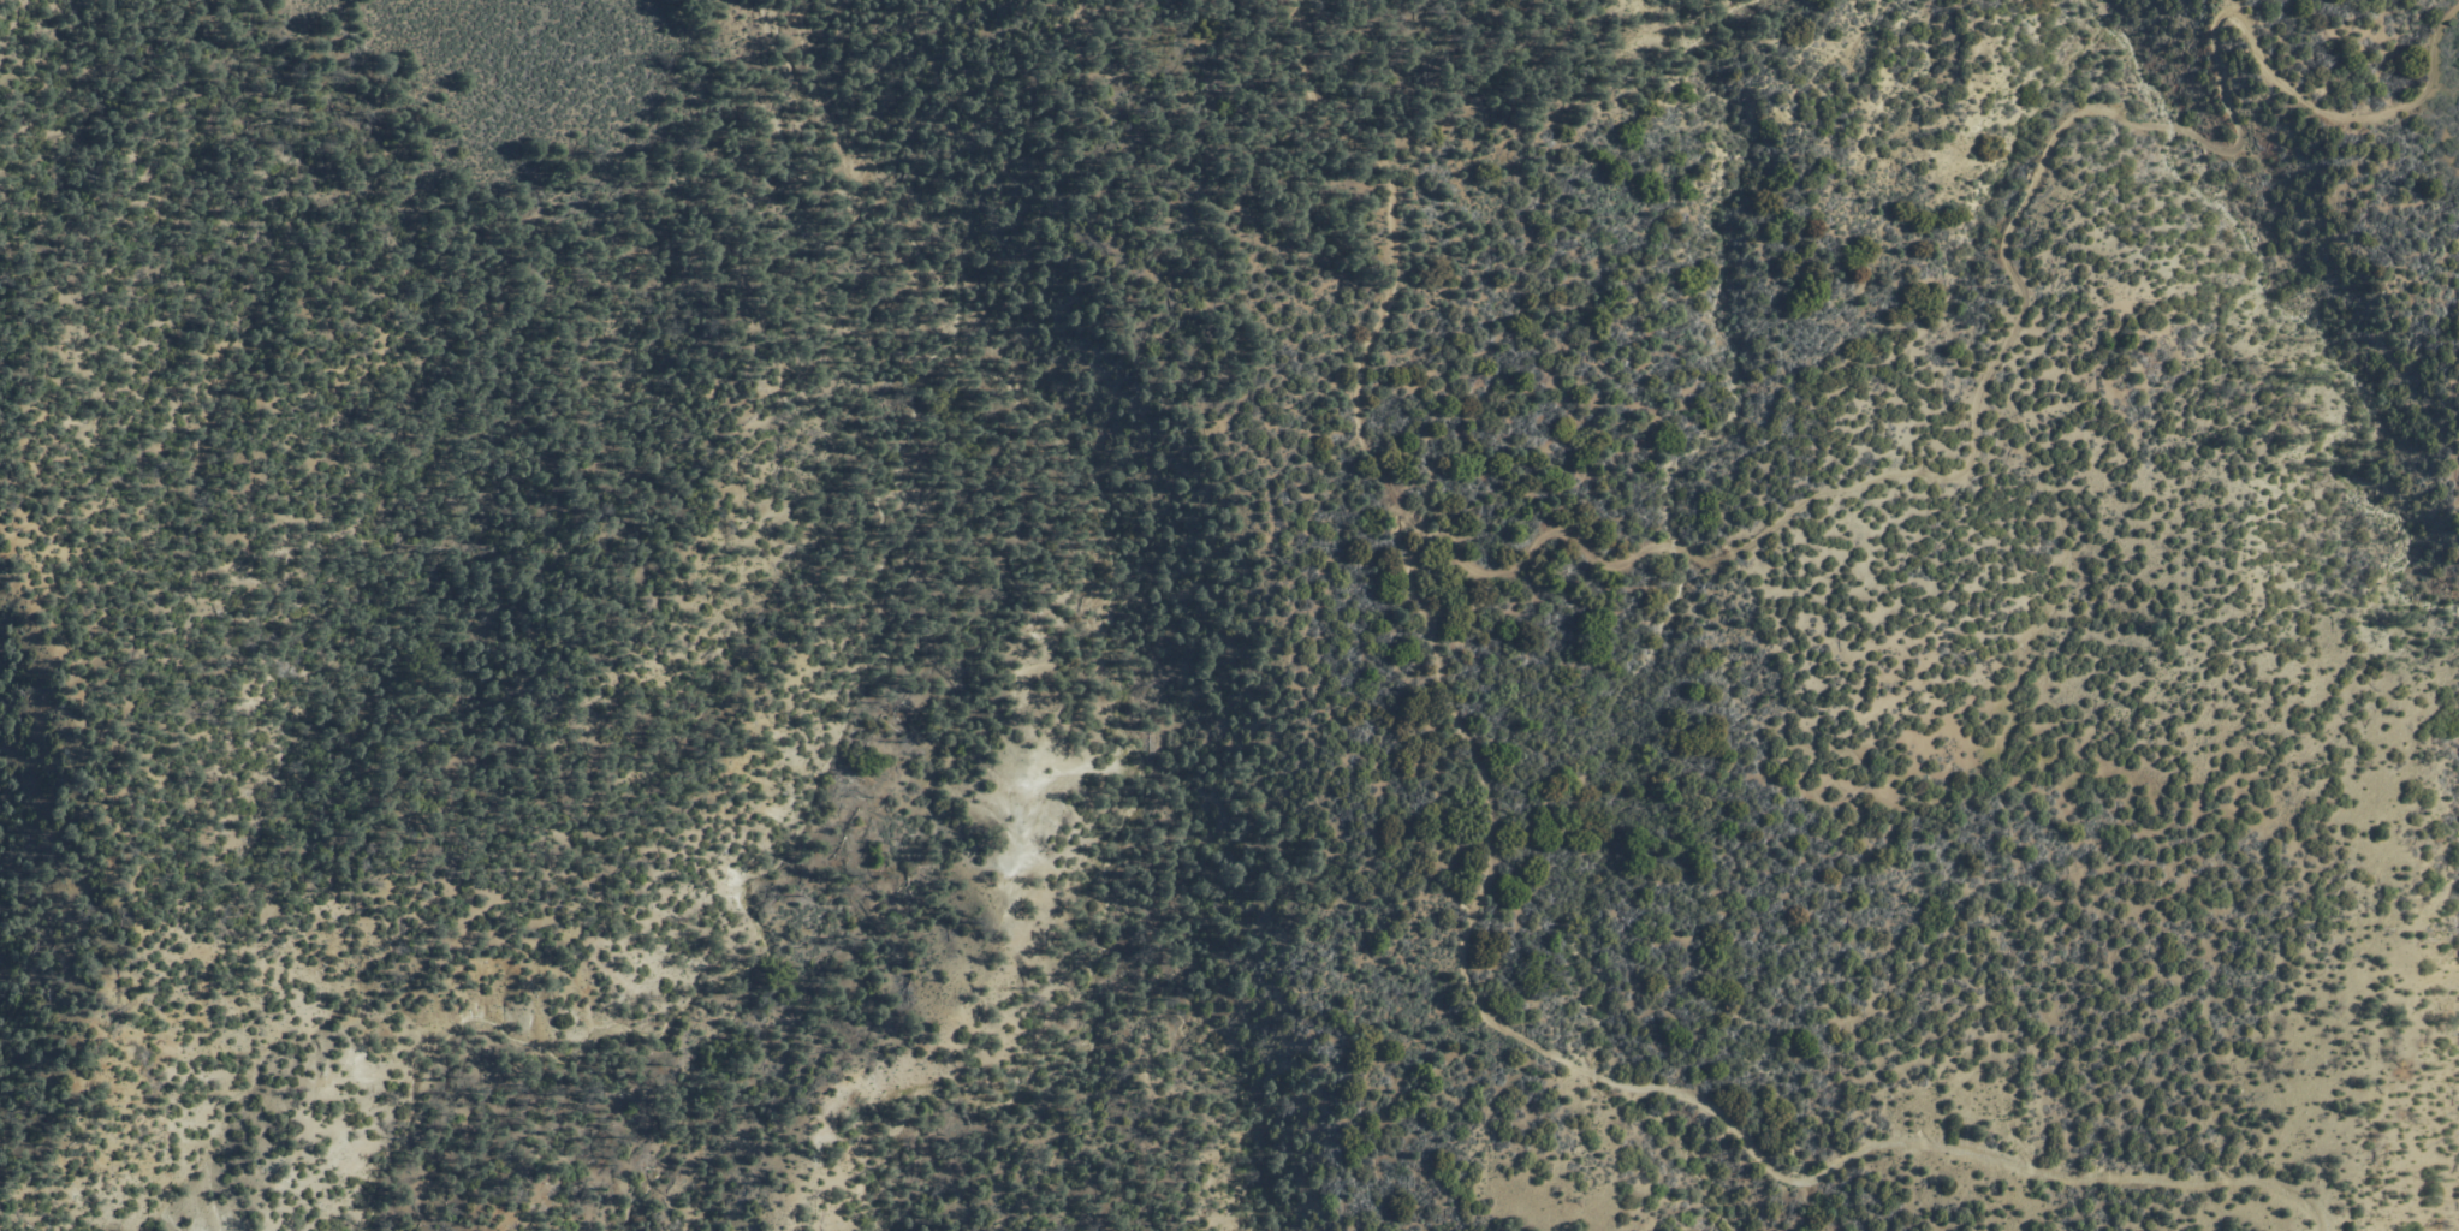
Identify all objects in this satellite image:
road: (1392, 249)
road: (1508, 567)

